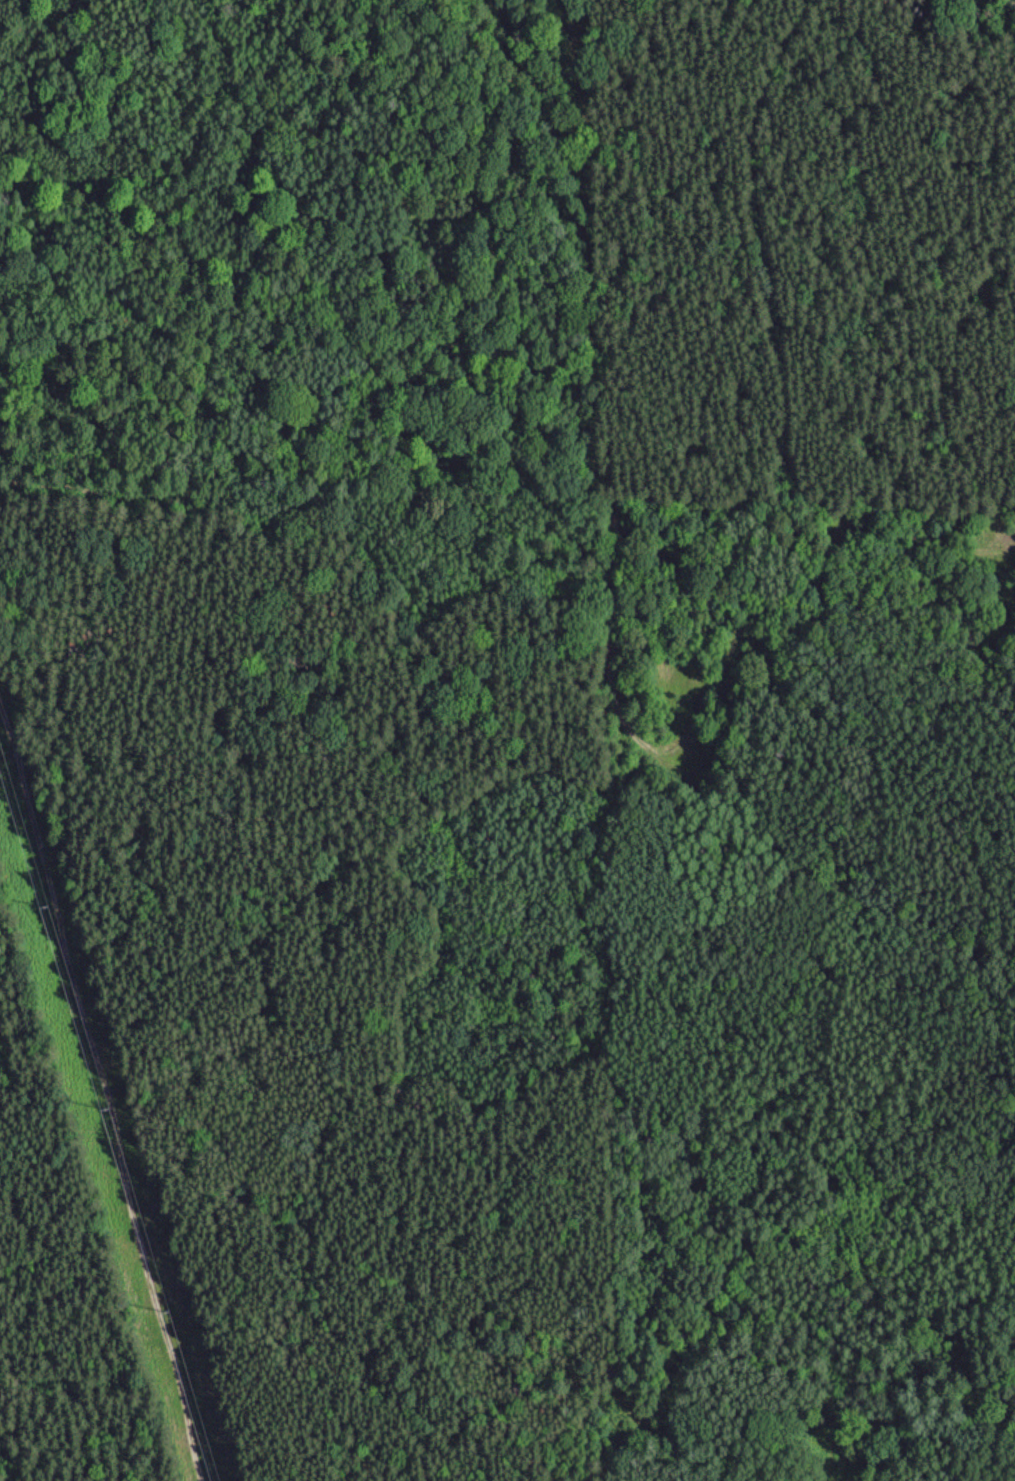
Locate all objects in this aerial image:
road: (593, 486)
road: (787, 498)
road: (898, 537)
road: (964, 823)
road: (105, 1097)

